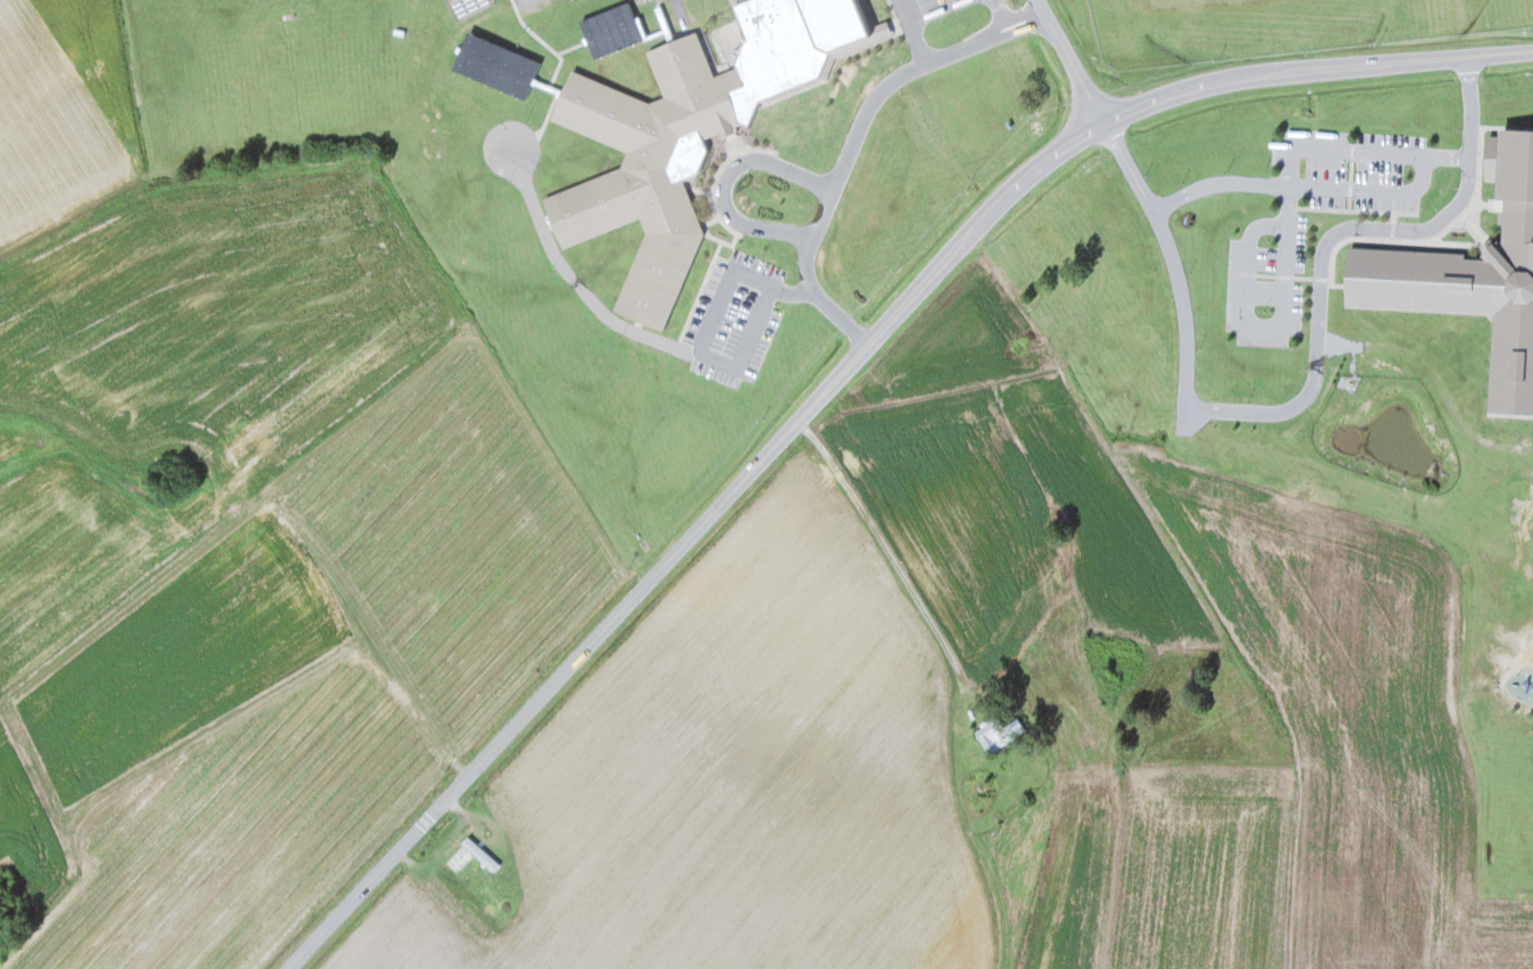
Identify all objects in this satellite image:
road: (996, 9)
road: (909, 30)
road: (988, 30)
building: (606, 35)
road: (1068, 61)
building: (494, 66)
building: (687, 131)
road: (837, 166)
road: (721, 178)
road: (1314, 185)
road: (1327, 234)
road: (1168, 257)
road: (700, 330)
road: (838, 377)
road: (891, 551)
building: (1064, 708)
building: (989, 737)
building: (458, 859)

